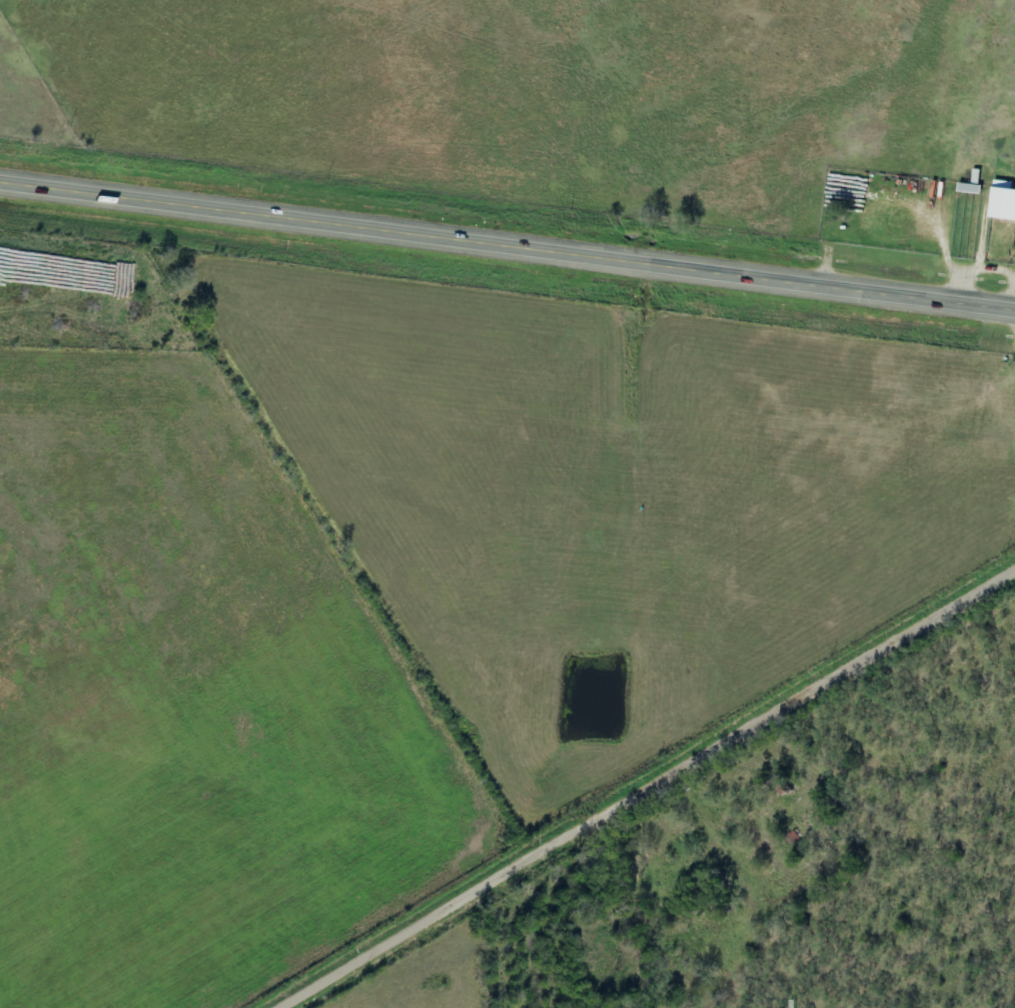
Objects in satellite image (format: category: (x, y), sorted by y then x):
building: (1002, 204)
road: (507, 239)
road: (652, 791)

